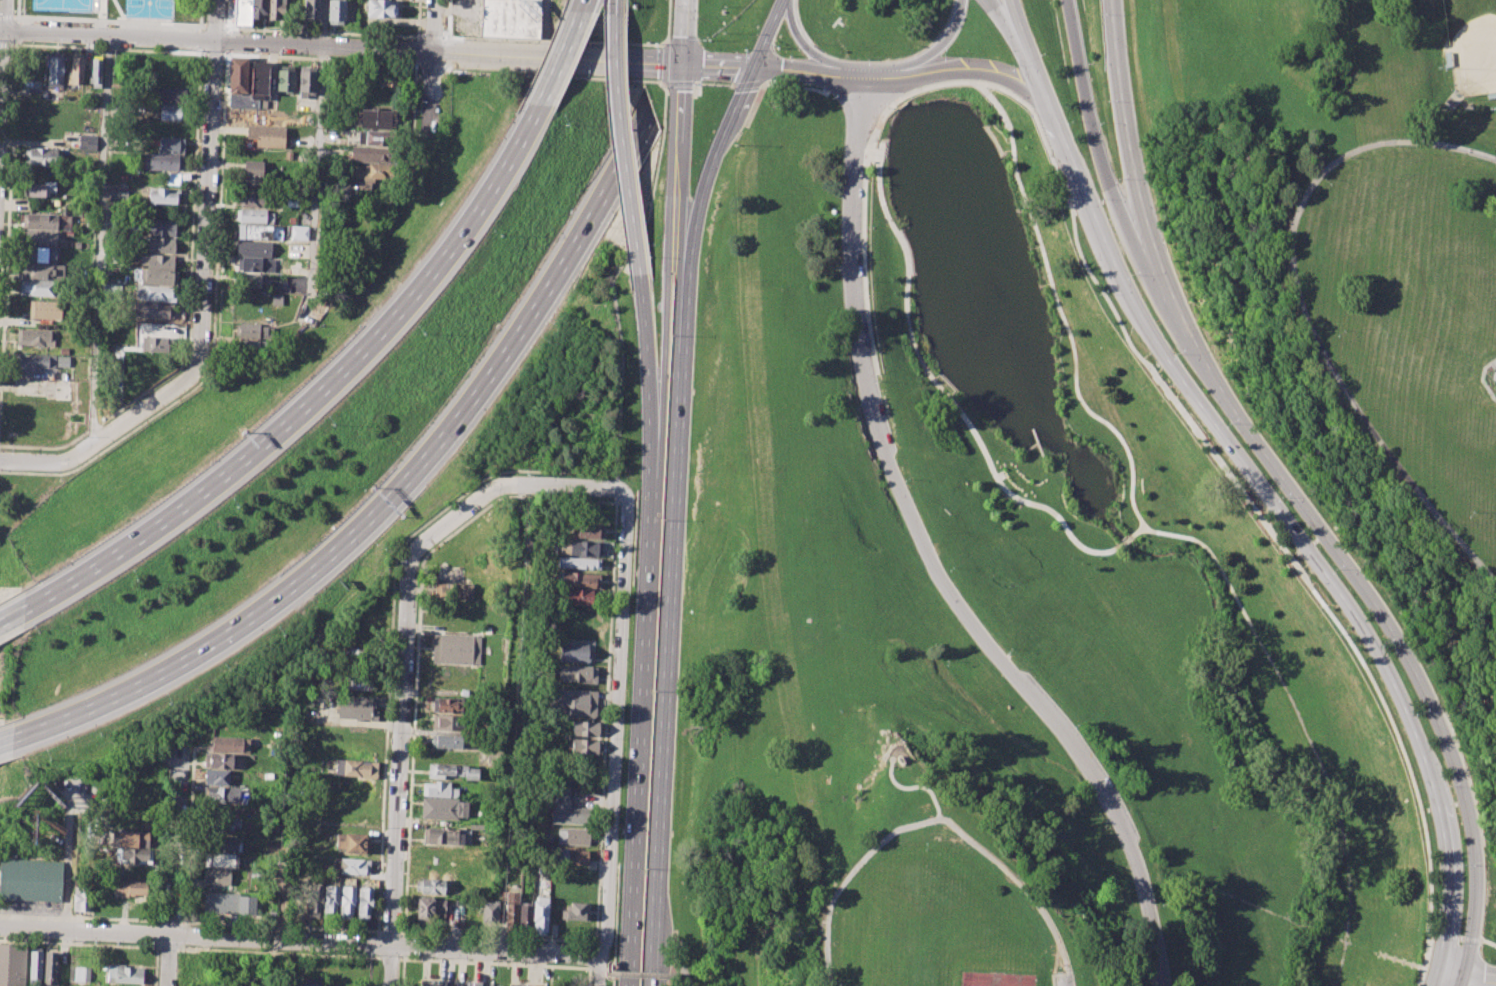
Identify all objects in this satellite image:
road: (581, 6)
road: (615, 6)
road: (17, 8)
building: (260, 9)
building: (380, 9)
building: (277, 10)
building: (311, 10)
building: (336, 11)
road: (199, 12)
building: (241, 12)
road: (228, 13)
building: (176, 15)
street lamp: (224, 16)
road: (6, 17)
road: (446, 18)
building: (510, 18)
road: (20, 20)
road: (108, 20)
road: (667, 22)
road: (213, 25)
road: (434, 26)
road: (547, 29)
road: (19, 31)
road: (338, 32)
street lamp: (722, 32)
road: (682, 33)
road: (769, 35)
road: (1013, 36)
road: (555, 39)
road: (216, 40)
street lamp: (708, 40)
road: (19, 42)
street lamp: (654, 42)
road: (803, 42)
road: (1, 43)
road: (7, 43)
street lamp: (58, 44)
park: (1472, 45)
road: (108, 47)
street lamp: (132, 47)
street lamp: (777, 47)
road: (940, 47)
street lamp: (743, 48)
road: (212, 52)
street lamp: (194, 54)
road: (446, 54)
street lamp: (942, 54)
street lamp: (1042, 54)
street lamp: (789, 55)
road: (321, 57)
road: (556, 59)
road: (558, 59)
street lamp: (866, 59)
road: (664, 63)
street lamp: (1011, 63)
street lamp: (1090, 63)
traffic signals: (681, 66)
road: (432, 67)
road: (717, 68)
building: (55, 69)
building: (76, 70)
traffic signals: (754, 70)
road: (974, 71)
building: (94, 72)
road: (808, 72)
road: (878, 73)
building: (237, 75)
building: (350, 75)
building: (285, 78)
building: (390, 78)
building: (307, 81)
road: (676, 82)
road: (713, 83)
road: (748, 83)
road: (661, 84)
road: (794, 86)
building: (253, 87)
street lamp: (769, 87)
road: (860, 93)
building: (171, 95)
road: (906, 95)
street lamp: (830, 98)
road: (896, 99)
road: (430, 100)
street lamp: (1107, 102)
road: (754, 104)
street lamp: (887, 107)
building: (171, 113)
building: (378, 118)
street lamp: (1071, 122)
street lamp: (1101, 122)
road: (679, 125)
street lamp: (199, 131)
building: (266, 136)
road: (1129, 136)
building: (375, 138)
road: (1094, 141)
building: (87, 142)
building: (171, 145)
road: (623, 145)
street lamp: (1398, 146)
street lamp: (1450, 153)
building: (371, 154)
building: (41, 156)
road: (318, 156)
street lamp: (1351, 157)
building: (162, 162)
street lamp: (1494, 165)
building: (252, 174)
building: (371, 174)
road: (655, 179)
road: (707, 179)
street lamp: (1117, 179)
building: (171, 180)
street lamp: (867, 180)
street lamp: (1314, 187)
building: (39, 188)
building: (163, 196)
building: (253, 199)
building: (294, 201)
street lamp: (1100, 201)
road: (8, 206)
street lamp: (196, 207)
street lamp: (1063, 207)
building: (252, 216)
building: (39, 221)
building: (160, 227)
street lamp: (1295, 231)
building: (254, 232)
building: (298, 232)
building: (39, 238)
road: (102, 238)
road: (679, 240)
building: (160, 245)
building: (254, 249)
building: (39, 254)
building: (160, 261)
building: (257, 265)
road: (205, 266)
building: (42, 271)
street lamp: (1130, 275)
building: (156, 277)
street lamp: (1297, 280)
street lamp: (867, 281)
building: (38, 288)
building: (155, 294)
street lamp: (1097, 294)
road: (1170, 296)
building: (46, 309)
building: (153, 311)
road: (1304, 311)
road: (187, 312)
street lamp: (1312, 325)
building: (253, 331)
road: (212, 332)
street lamp: (1341, 333)
street lamp: (670, 334)
road: (666, 335)
building: (36, 338)
building: (156, 344)
building: (253, 347)
street lamp: (189, 353)
street lamp: (1175, 354)
building: (35, 362)
building: (64, 362)
road: (1494, 365)
street lamp: (1334, 368)
road: (1483, 379)
road: (648, 381)
street lamp: (877, 382)
road: (317, 393)
street lamp: (136, 400)
road: (950, 400)
street lamp: (1360, 409)
street lamp: (1227, 424)
street lamp: (1388, 447)
street lamp: (10, 450)
road: (31, 463)
street lamp: (532, 474)
street lamp: (906, 479)
street lamp: (1418, 486)
road: (1256, 488)
road: (616, 489)
road: (393, 492)
street lamp: (1281, 496)
street lamp: (455, 505)
road: (1252, 509)
street lamp: (1470, 513)
street lamp: (661, 521)
park: (1100, 521)
street lamp: (1447, 524)
building: (589, 530)
road: (1167, 533)
street lamp: (616, 541)
street lamp: (384, 547)
building: (579, 548)
road: (935, 556)
street lamp: (1480, 560)
street lamp: (398, 562)
building: (578, 563)
street lamp: (951, 567)
street lamp: (1333, 568)
building: (575, 580)
building: (455, 591)
building: (575, 597)
road: (12, 614)
road: (392, 619)
street lamp: (394, 629)
road: (1389, 632)
road: (417, 637)
road: (667, 640)
street lamp: (1382, 643)
building: (456, 649)
street lamp: (1010, 649)
road: (404, 651)
building: (573, 652)
building: (576, 673)
street lamp: (653, 689)
building: (572, 703)
building: (451, 705)
building: (358, 707)
street lamp: (1418, 713)
road: (605, 721)
building: (451, 722)
street lamp: (1077, 724)
building: (586, 728)
street lamp: (390, 734)
road: (643, 736)
building: (447, 740)
road: (613, 741)
building: (228, 743)
road: (5, 747)
building: (585, 747)
building: (218, 760)
building: (353, 767)
building: (445, 770)
street lamp: (168, 772)
building: (216, 777)
road: (913, 787)
street lamp: (1449, 787)
street lamp: (1038, 788)
building: (440, 789)
building: (227, 795)
building: (446, 808)
building: (567, 808)
street lamp: (1129, 810)
building: (222, 822)
street lamp: (385, 827)
road: (188, 833)
building: (443, 836)
building: (572, 836)
building: (130, 839)
road: (175, 841)
street lamp: (166, 842)
building: (353, 842)
building: (226, 843)
street lamp: (923, 851)
building: (136, 856)
building: (572, 856)
building: (221, 860)
street lamp: (1463, 864)
building: (351, 865)
street lamp: (644, 867)
road: (65, 868)
road: (159, 870)
road: (1009, 873)
building: (217, 877)
building: (31, 879)
building: (431, 886)
building: (129, 889)
road: (835, 895)
building: (82, 896)
building: (313, 900)
building: (330, 901)
building: (364, 901)
building: (217, 902)
building: (347, 902)
street lamp: (1165, 907)
building: (246, 908)
building: (423, 910)
building: (439, 911)
building: (510, 911)
building: (575, 911)
building: (462, 913)
road: (80, 916)
building: (489, 916)
building: (540, 916)
building: (525, 917)
road: (171, 920)
road: (282, 926)
street lamp: (380, 928)
road: (389, 931)
road: (84, 932)
road: (497, 935)
road: (171, 937)
street lamp: (597, 937)
road: (282, 940)
road: (1462, 941)
road: (79, 942)
street lamp: (1459, 943)
street lamp: (72, 944)
road: (375, 944)
road: (167, 947)
road: (496, 949)
street lamp: (151, 951)
street lamp: (218, 952)
road: (275, 953)
street lamp: (275, 954)
road: (591, 954)
street lamp: (434, 957)
road: (375, 958)
road: (389, 958)
road: (168, 961)
road: (492, 963)
building: (12, 964)
building: (34, 964)
road: (588, 967)
building: (50, 968)
road: (597, 968)
street lamp: (1048, 969)
road: (677, 970)
road: (1467, 971)
building: (79, 973)
road: (614, 973)
building: (123, 974)
road: (645, 975)
road: (587, 976)
park: (997, 980)
building: (310, 982)
building: (452, 983)
road: (1064, 983)
building: (524, 984)
street lamp: (843, 984)

